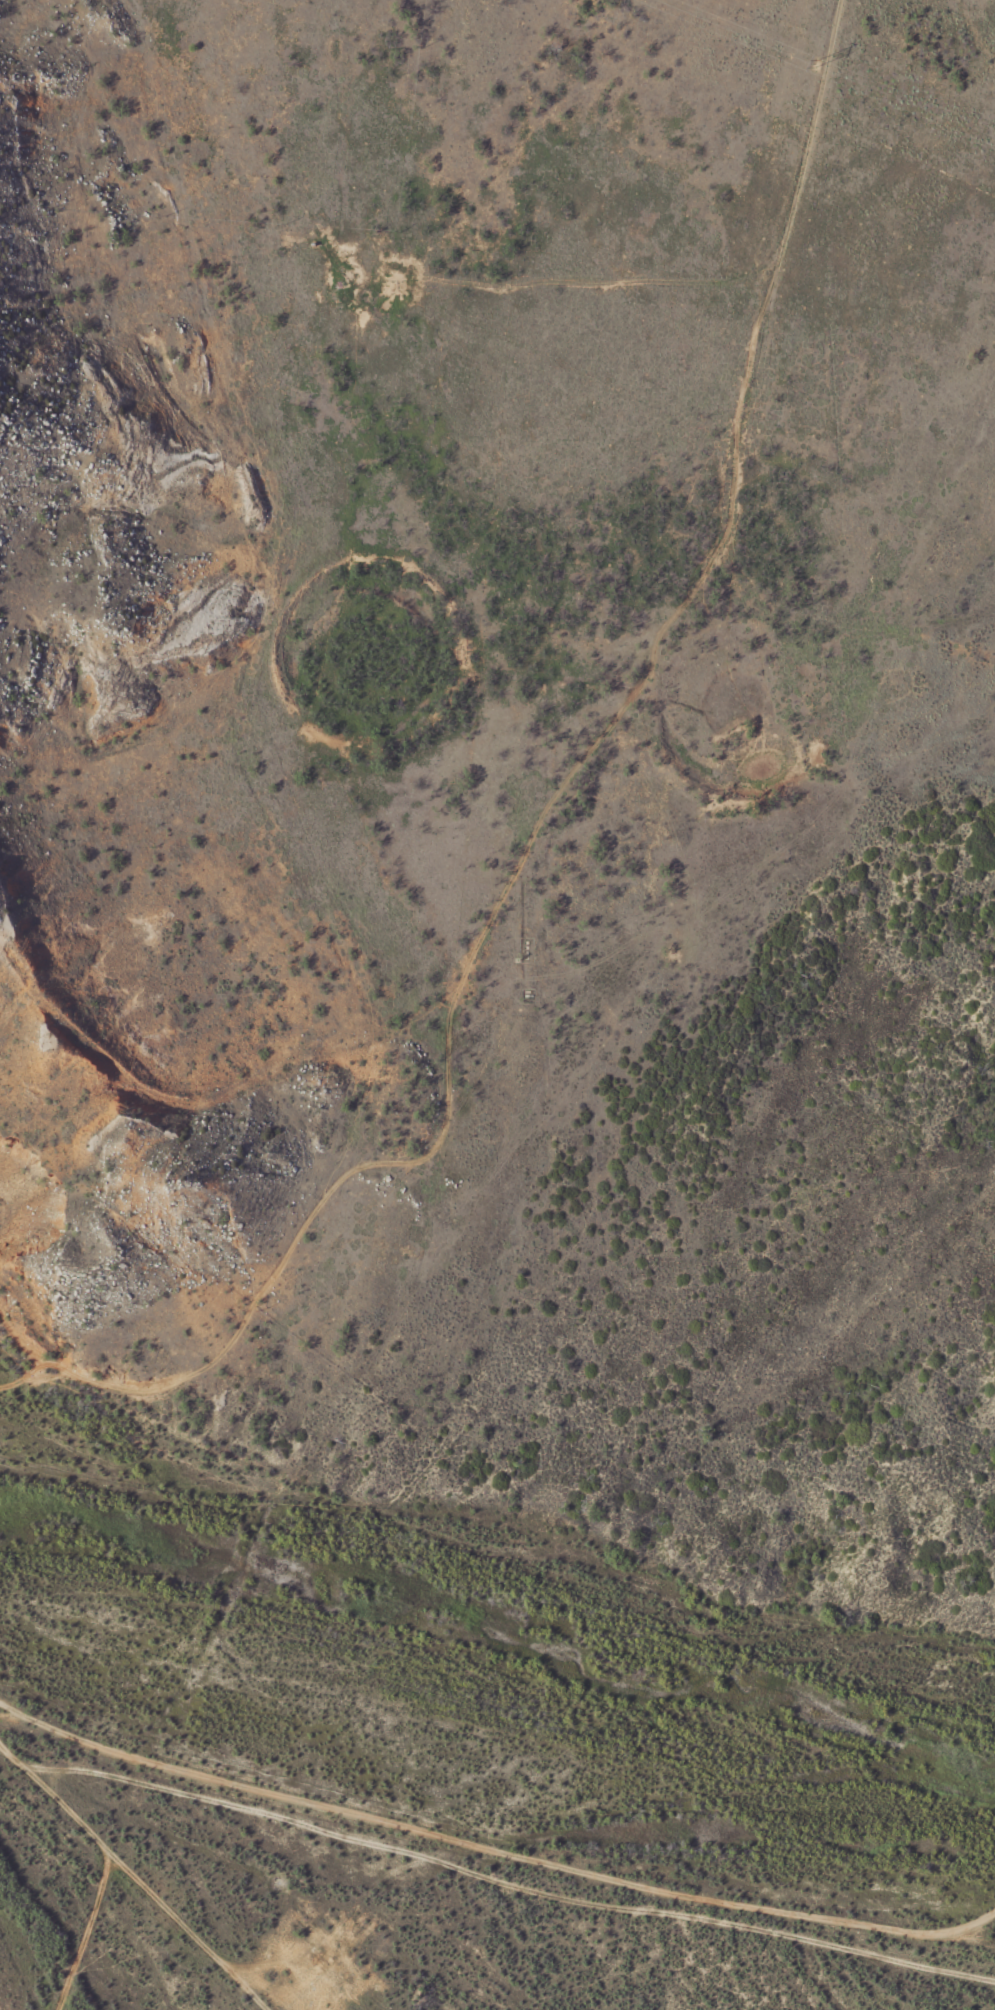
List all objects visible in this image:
power tower: (816, 63)
river: (503, 1646)

